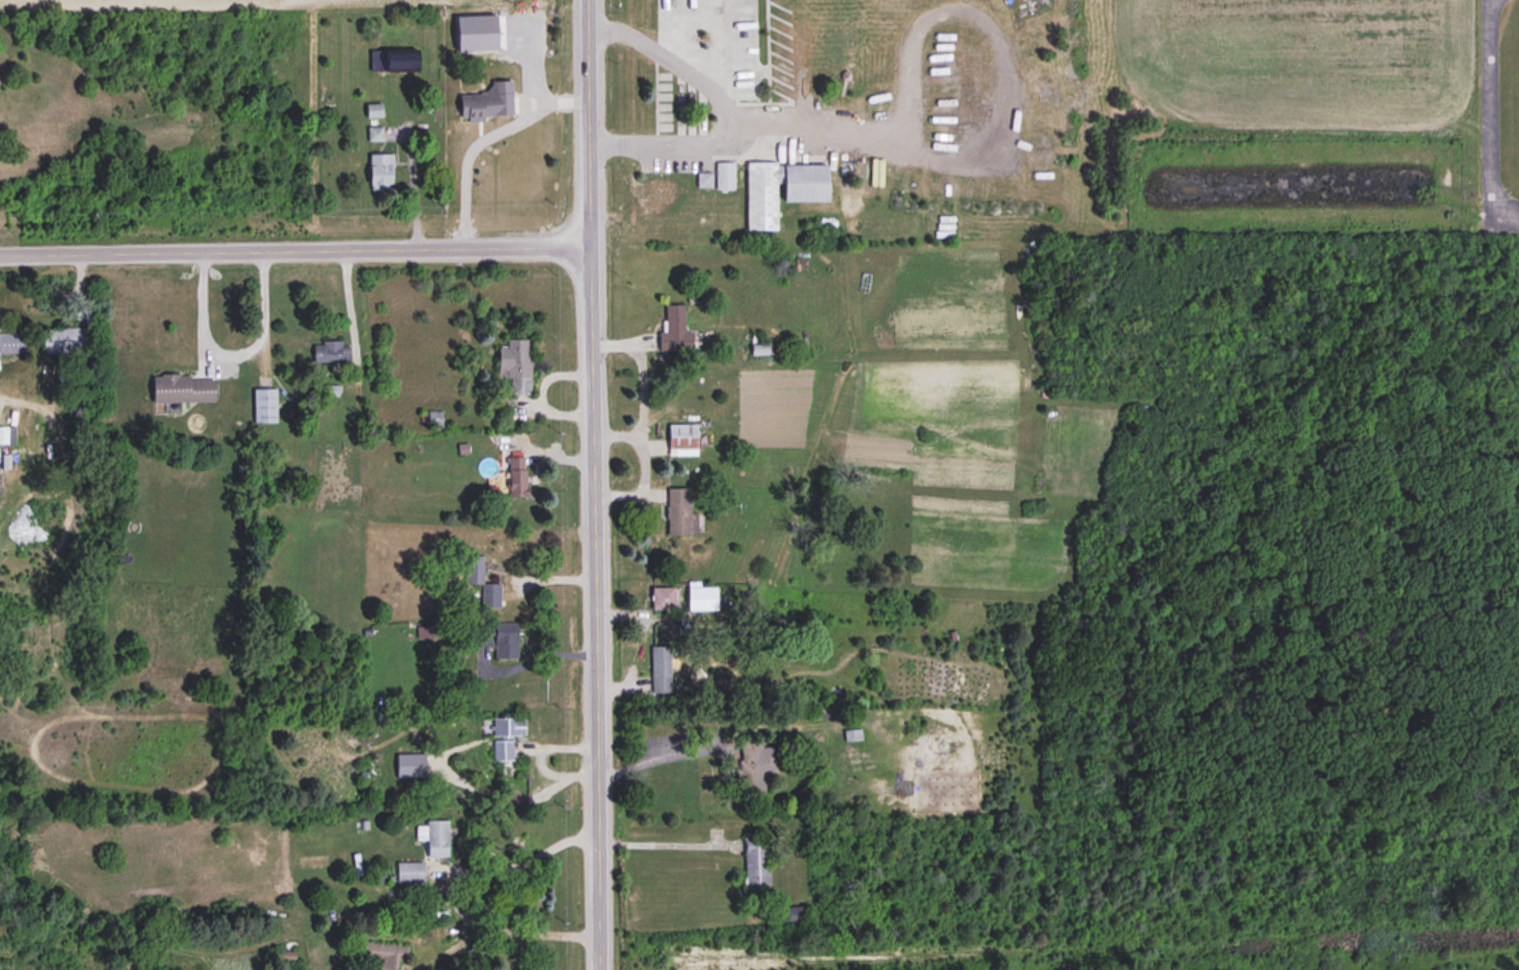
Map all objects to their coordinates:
building: (469, 40)
building: (393, 61)
building: (488, 104)
road: (721, 106)
building: (373, 112)
road: (1488, 118)
road: (1003, 125)
building: (376, 135)
road: (477, 136)
building: (380, 172)
building: (725, 177)
building: (704, 181)
building: (804, 184)
building: (658, 192)
road: (413, 195)
building: (761, 197)
road: (294, 252)
road: (348, 304)
building: (675, 331)
building: (69, 341)
building: (12, 344)
building: (762, 346)
road: (231, 352)
building: (331, 352)
building: (516, 366)
building: (182, 390)
building: (265, 407)
road: (640, 419)
building: (434, 420)
road: (615, 434)
building: (3, 437)
building: (682, 441)
building: (516, 478)
road: (593, 484)
building: (679, 514)
building: (481, 583)
building: (662, 599)
building: (498, 640)
road: (529, 661)
building: (660, 670)
building: (853, 736)
building: (506, 745)
road: (660, 754)
road: (537, 757)
building: (751, 767)
building: (436, 839)
road: (666, 842)
road: (520, 863)
building: (757, 864)
building: (409, 873)
building: (791, 919)
road: (504, 933)
building: (385, 955)

